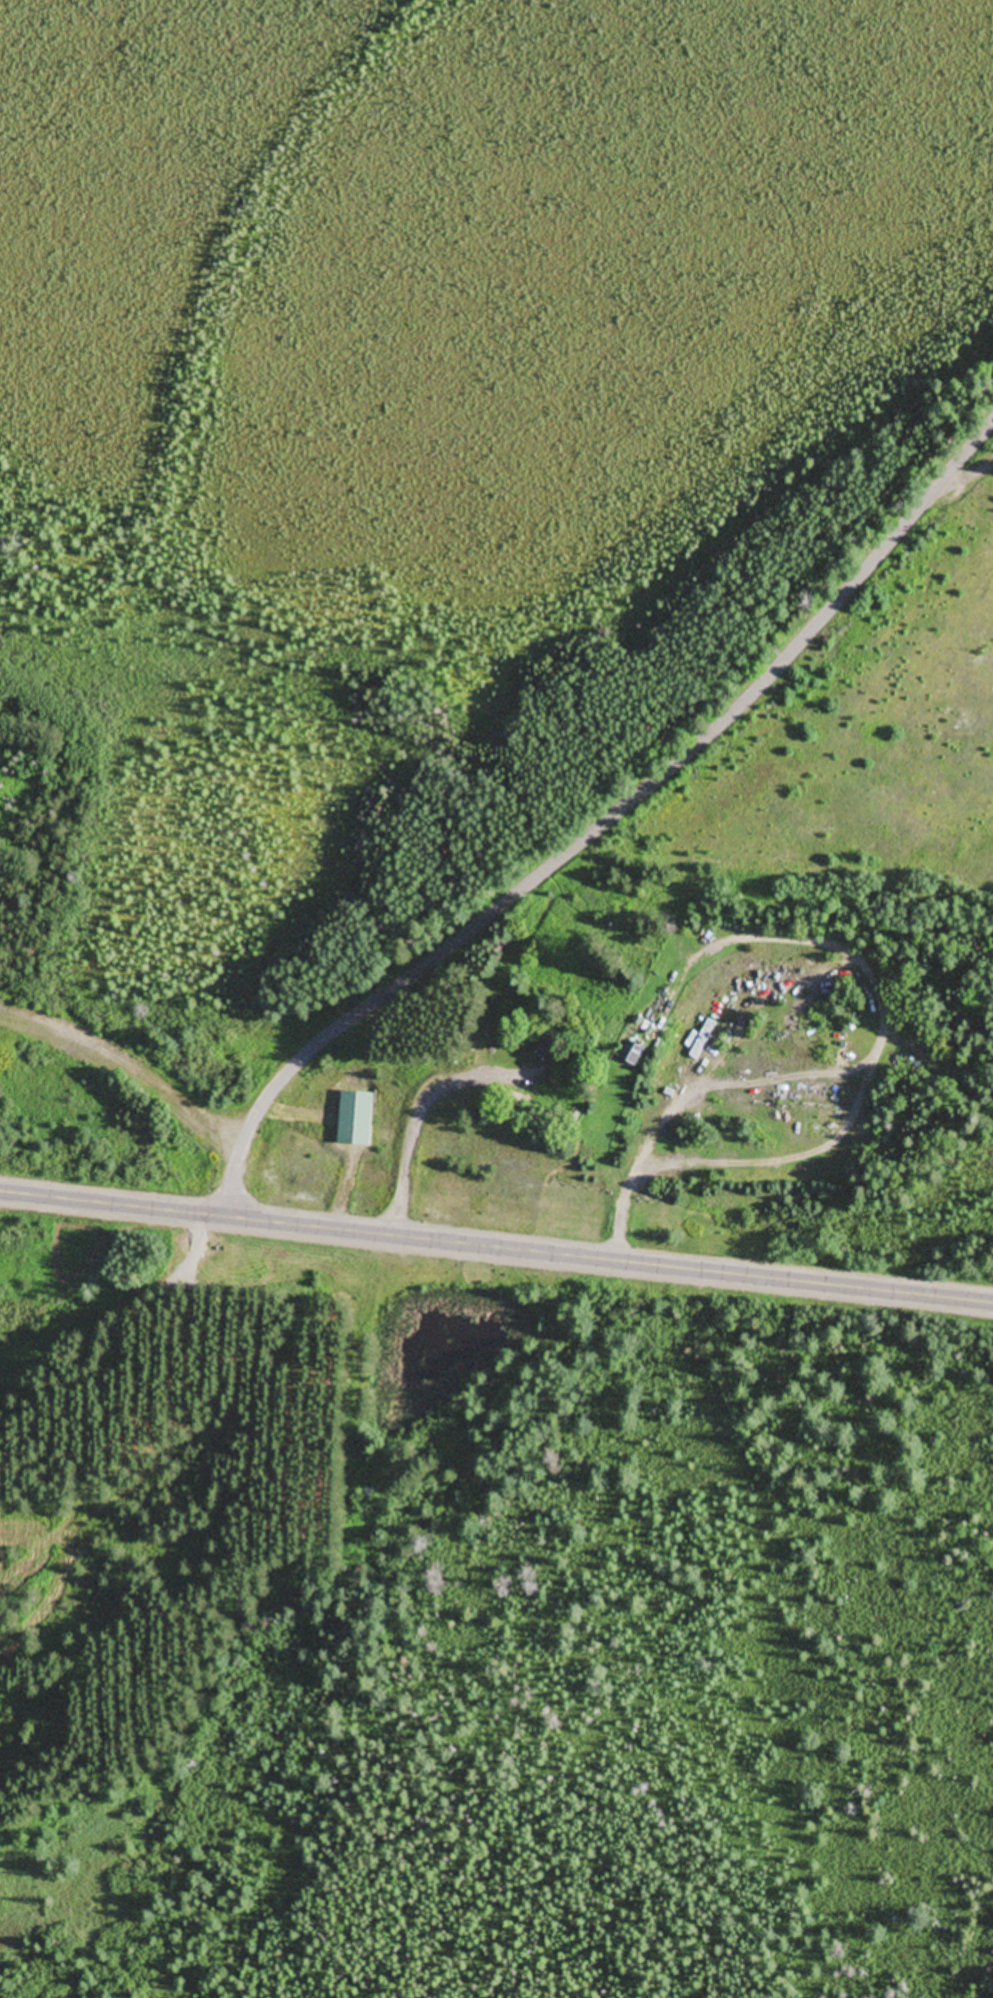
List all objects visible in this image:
road: (627, 799)
road: (428, 956)
building: (704, 1040)
building: (552, 1049)
building: (636, 1053)
building: (356, 1119)
road: (250, 1132)
road: (496, 1249)

